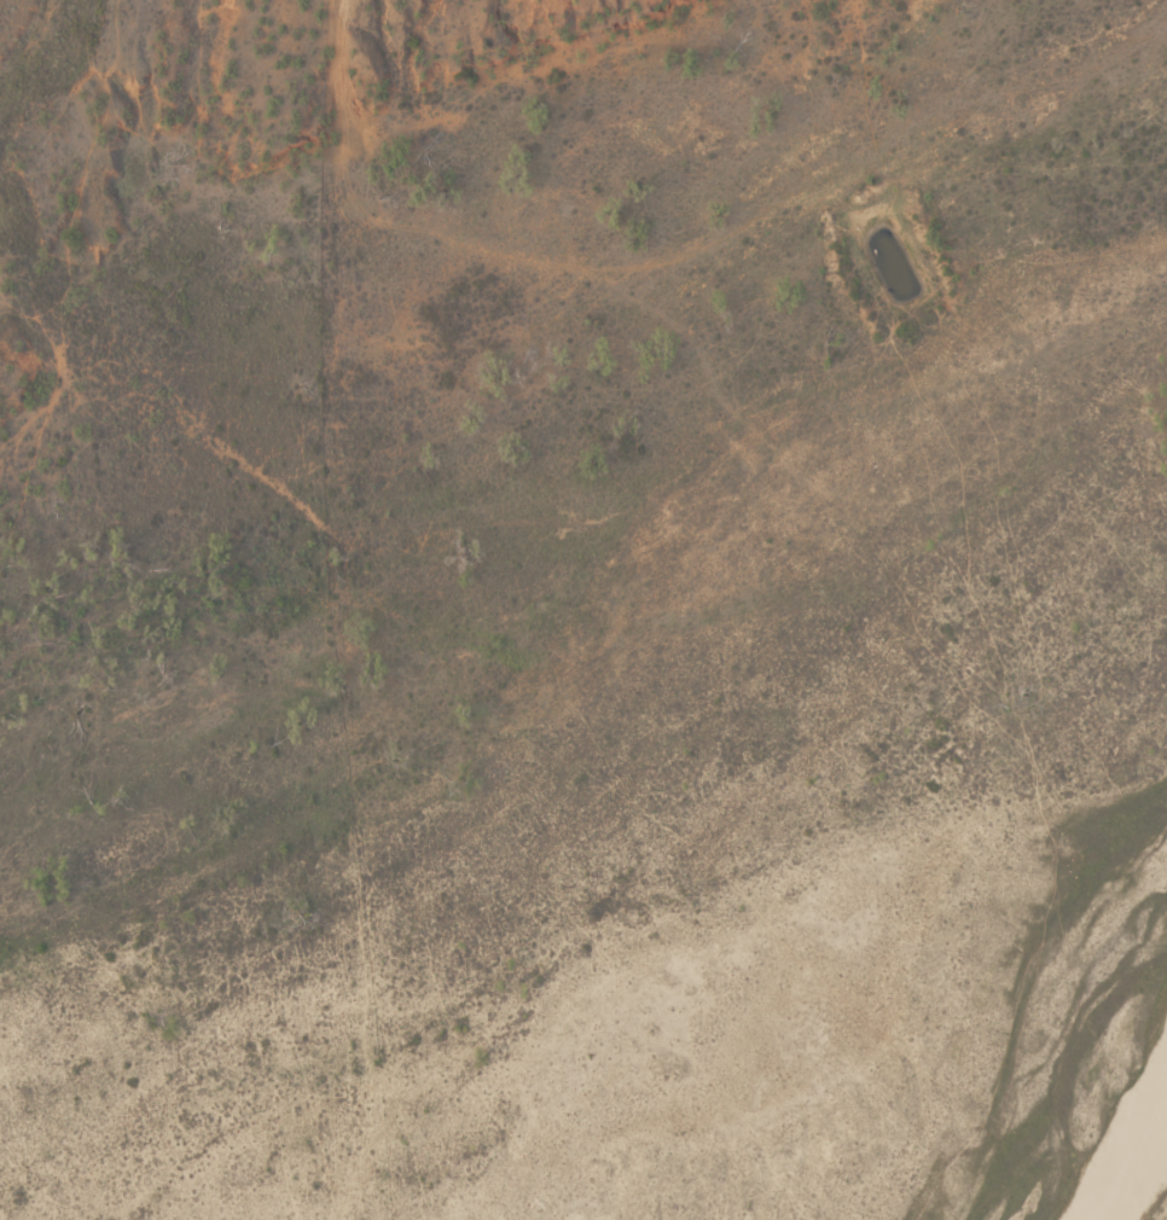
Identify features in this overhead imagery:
river: (1125, 1158)

